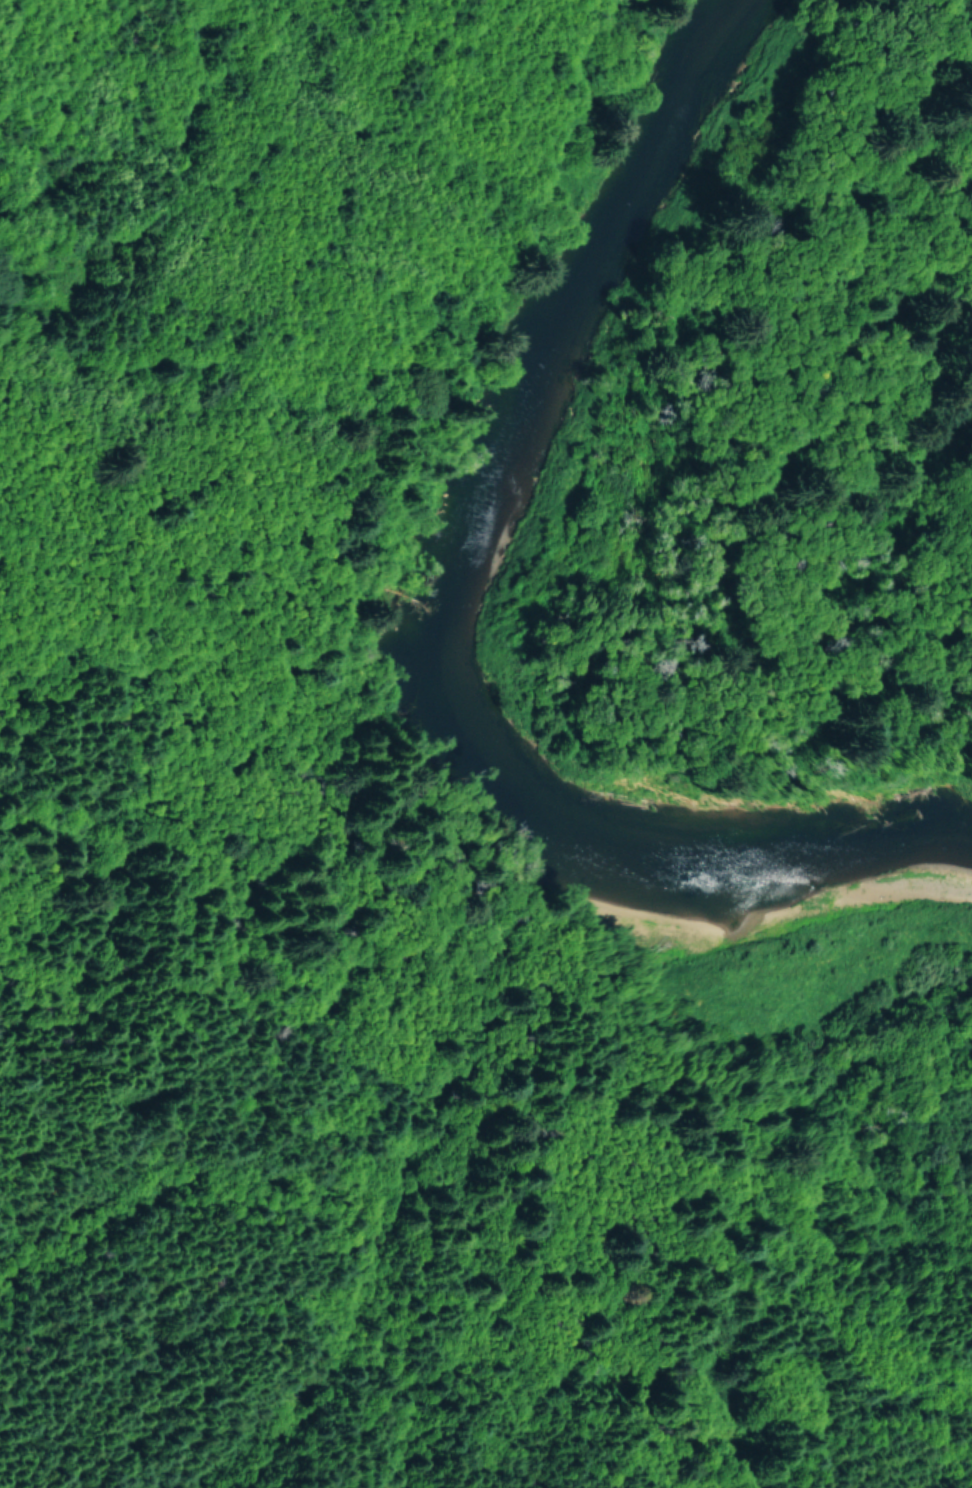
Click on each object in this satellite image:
river: (470, 616)

